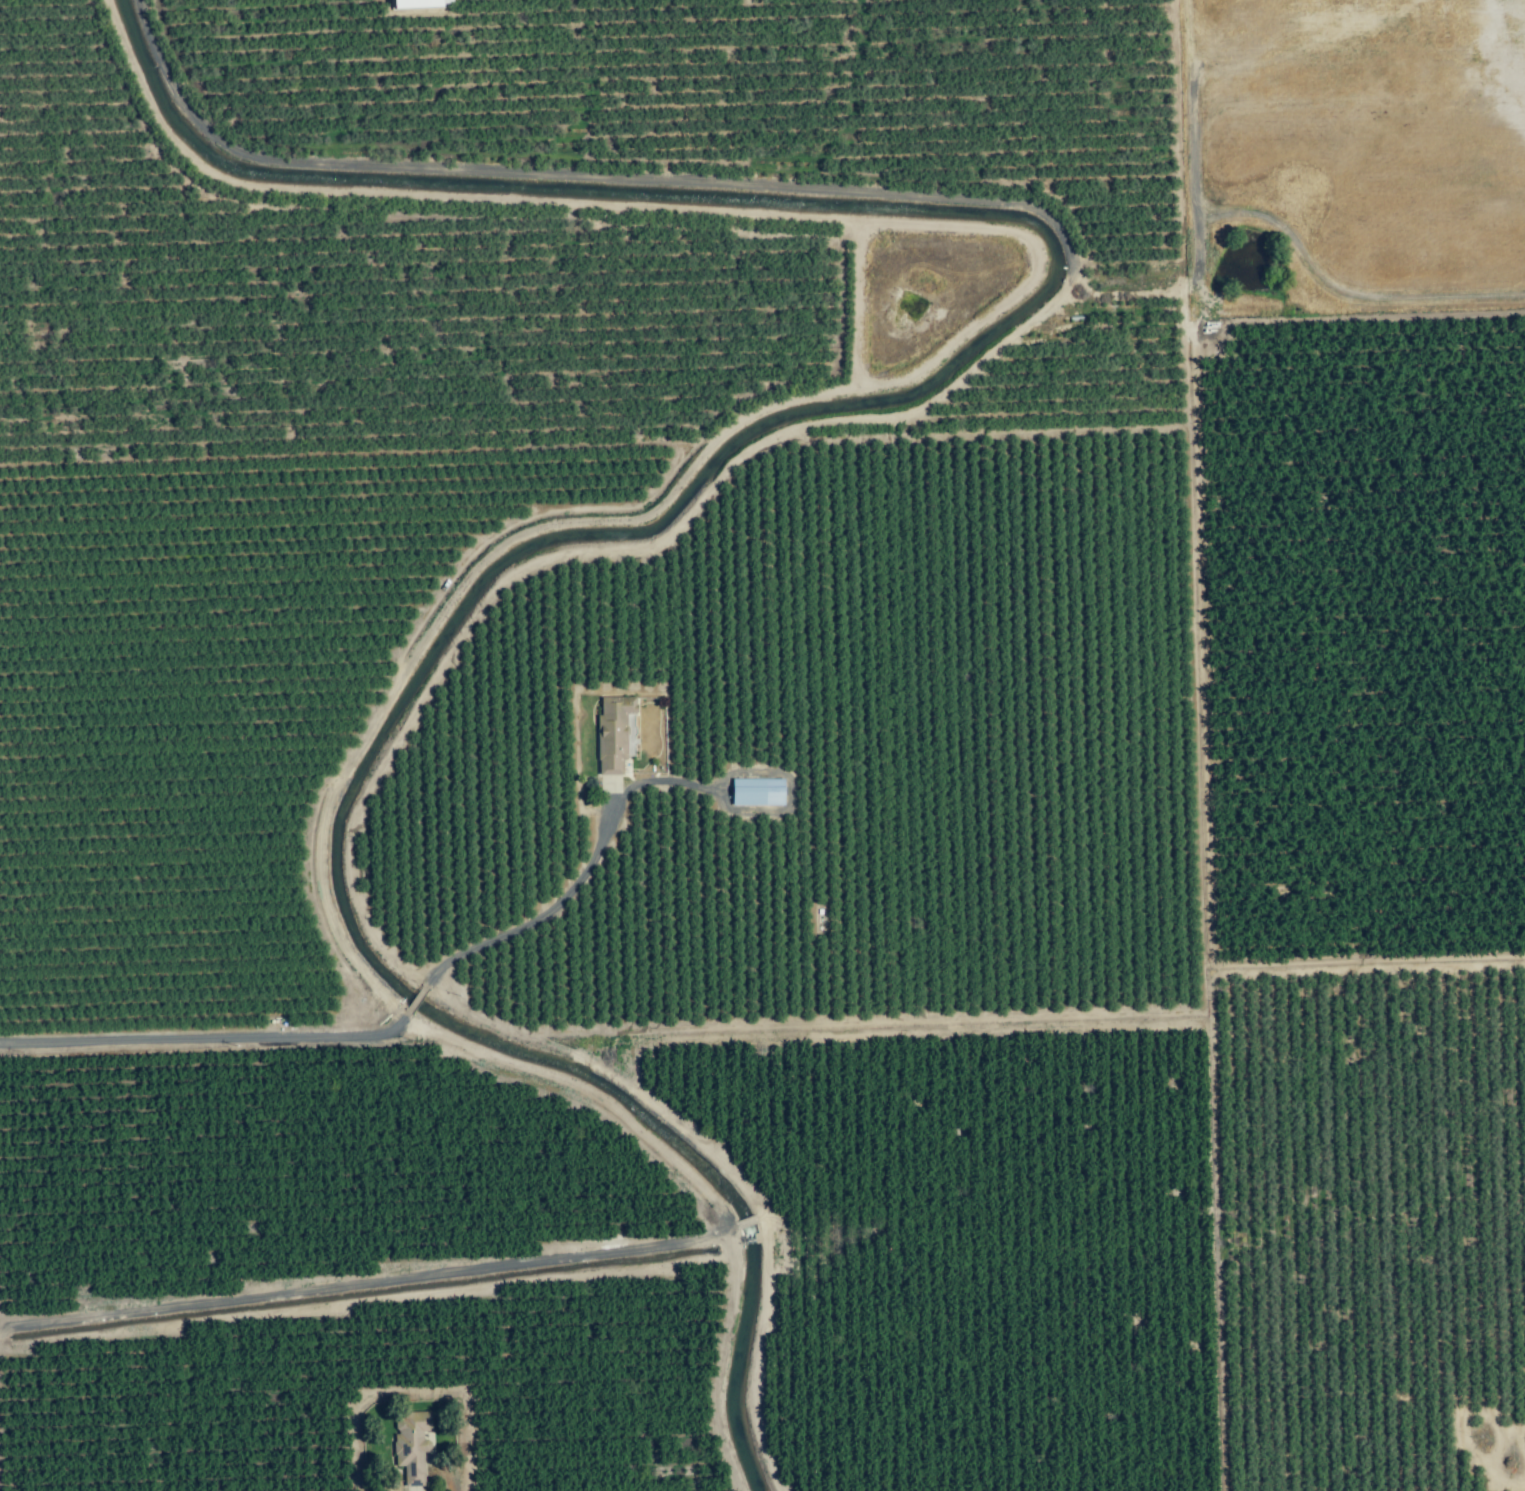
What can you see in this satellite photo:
river: (718, 447)
building: (614, 733)
building: (774, 759)
crop: (192, 762)
building: (758, 792)
road: (346, 1034)
building: (412, 1444)

